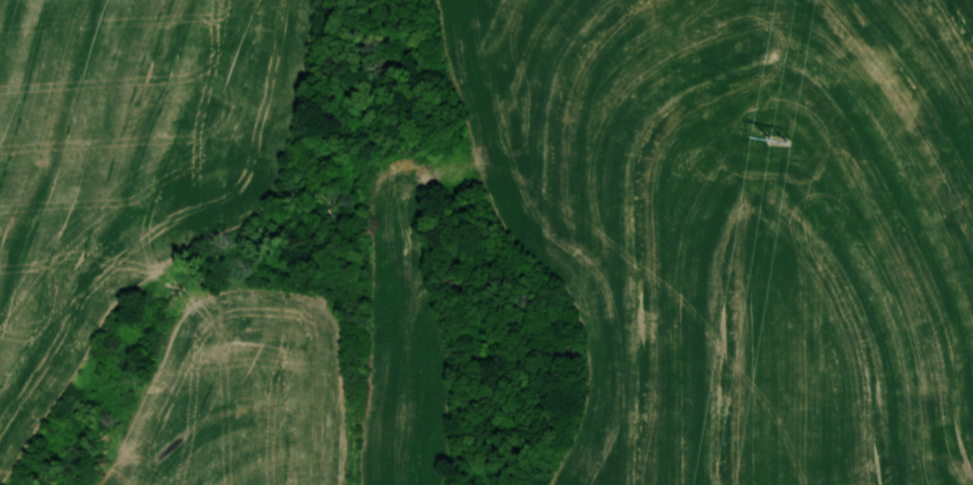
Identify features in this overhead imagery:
power tower: (782, 141)

